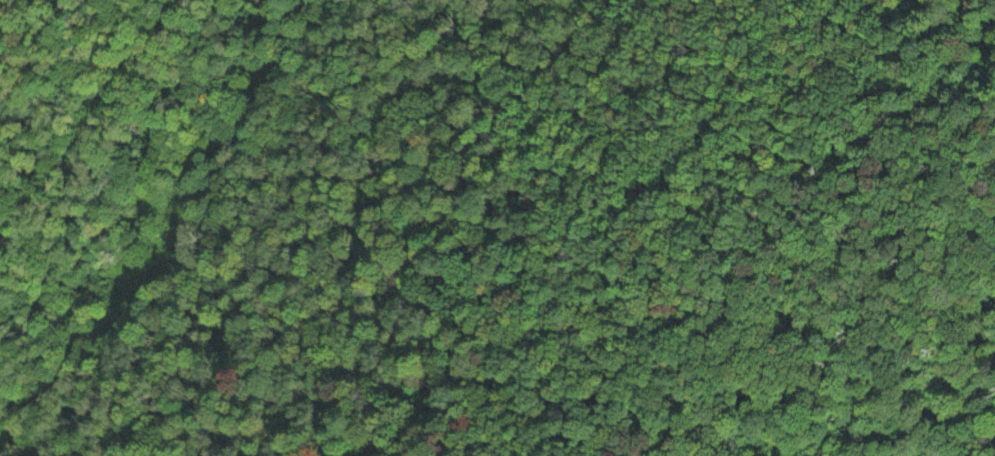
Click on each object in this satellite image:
road: (95, 125)

